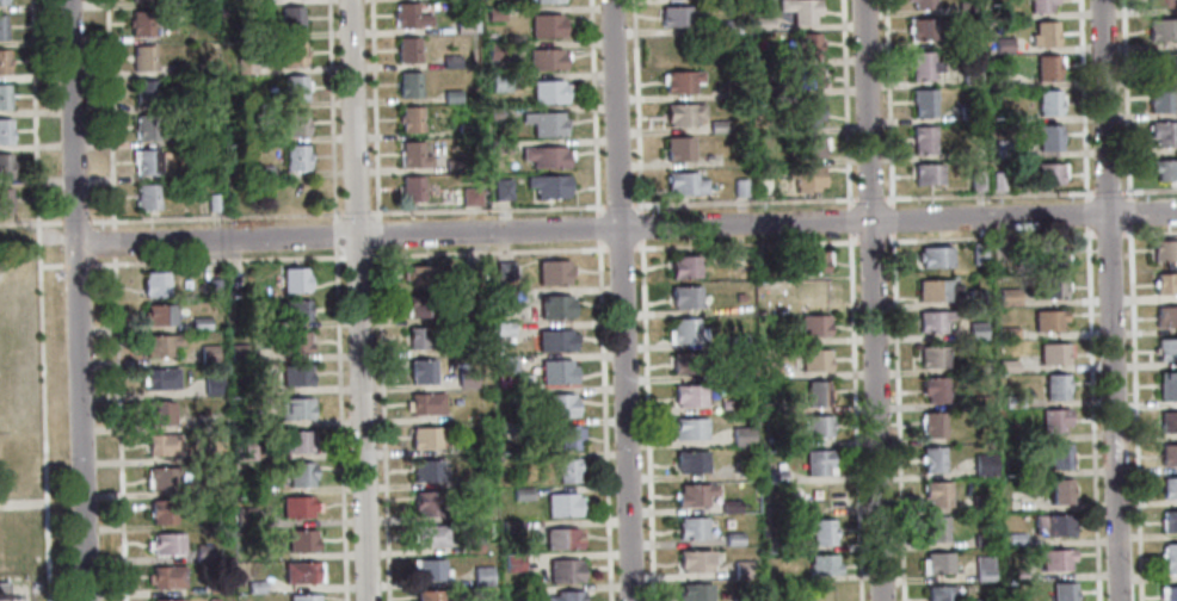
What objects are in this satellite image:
building: (140, 0)
building: (548, 0)
building: (239, 1)
building: (1, 2)
building: (920, 4)
building: (1157, 4)
building: (1040, 6)
building: (965, 7)
building: (799, 10)
building: (495, 13)
building: (405, 14)
building: (677, 14)
building: (290, 18)
building: (141, 23)
building: (762, 23)
building: (463, 24)
building: (546, 25)
building: (729, 25)
building: (1, 26)
building: (919, 27)
building: (1161, 30)
building: (1042, 33)
building: (966, 39)
building: (811, 44)
building: (1002, 44)
building: (407, 49)
building: (495, 51)
building: (291, 52)
building: (142, 57)
building: (544, 58)
building: (2, 61)
building: (450, 62)
building: (1163, 63)
building: (922, 64)
building: (244, 66)
building: (1046, 67)
building: (968, 75)
building: (806, 78)
building: (999, 78)
building: (680, 80)
building: (500, 82)
building: (408, 83)
building: (733, 85)
building: (294, 87)
building: (143, 92)
building: (548, 92)
building: (2, 95)
building: (451, 95)
building: (1158, 98)
building: (186, 99)
road: (1123, 99)
road: (1082, 100)
building: (254, 101)
building: (922, 101)
building: (1048, 101)
road: (887, 103)
road: (844, 104)
road: (635, 106)
road: (592, 107)
road: (331, 111)
road: (372, 111)
building: (967, 111)
building: (806, 112)
building: (497, 113)
building: (680, 113)
road: (109, 114)
building: (1002, 117)
building: (409, 118)
building: (295, 122)
building: (546, 123)
building: (716, 125)
building: (146, 126)
building: (5, 130)
building: (466, 130)
building: (1161, 132)
building: (1044, 136)
building: (190, 138)
building: (922, 138)
building: (499, 145)
building: (805, 145)
building: (677, 148)
building: (1002, 149)
building: (413, 154)
building: (295, 156)
building: (546, 156)
building: (705, 156)
building: (144, 162)
building: (5, 165)
building: (452, 165)
building: (1164, 169)
building: (261, 171)
building: (1047, 172)
building: (926, 174)
building: (805, 176)
building: (975, 180)
building: (997, 181)
building: (683, 182)
building: (548, 185)
building: (738, 186)
building: (411, 187)
building: (501, 187)
road: (1029, 193)
building: (146, 196)
building: (470, 196)
road: (869, 197)
building: (4, 200)
road: (742, 200)
building: (212, 202)
road: (617, 205)
road: (346, 211)
road: (1127, 212)
road: (1085, 213)
road: (891, 219)
road: (848, 221)
road: (74, 222)
road: (30, 223)
road: (639, 225)
road: (626, 227)
road: (597, 228)
road: (1147, 233)
road: (377, 234)
road: (334, 235)
road: (1107, 235)
road: (988, 237)
road: (870, 241)
road: (112, 242)
road: (612, 248)
building: (1164, 249)
road: (335, 253)
building: (978, 253)
building: (1048, 254)
road: (356, 256)
building: (935, 256)
road: (215, 260)
building: (811, 261)
road: (50, 266)
road: (75, 266)
building: (683, 266)
building: (474, 269)
building: (504, 269)
building: (551, 272)
building: (423, 274)
building: (292, 279)
building: (153, 283)
building: (1165, 283)
building: (212, 286)
building: (1049, 286)
building: (935, 290)
building: (815, 295)
building: (684, 296)
building: (739, 297)
building: (1007, 297)
building: (503, 298)
road: (78, 299)
road: (358, 299)
road: (621, 299)
road: (1109, 299)
road: (38, 300)
road: (871, 300)
building: (420, 305)
building: (554, 305)
building: (291, 310)
building: (160, 314)
building: (474, 314)
building: (1166, 315)
building: (931, 320)
building: (1047, 320)
building: (251, 321)
building: (201, 322)
building: (813, 324)
building: (685, 329)
building: (974, 329)
building: (1006, 332)
building: (503, 333)
building: (421, 336)
building: (554, 340)
building: (735, 340)
building: (294, 341)
building: (160, 343)
building: (1166, 348)
building: (236, 352)
building: (209, 353)
building: (1052, 353)
building: (931, 357)
building: (813, 359)
building: (685, 361)
building: (505, 364)
building: (980, 366)
building: (1005, 366)
building: (768, 370)
building: (420, 371)
building: (555, 371)
building: (295, 373)
building: (726, 373)
building: (160, 377)
building: (466, 377)
building: (212, 385)
building: (1054, 385)
building: (1166, 385)
building: (253, 386)
building: (932, 389)
building: (815, 391)
building: (517, 395)
building: (688, 395)
building: (976, 401)
building: (1012, 401)
building: (424, 403)
building: (557, 404)
building: (727, 405)
building: (292, 407)
building: (159, 411)
road: (1091, 413)
road: (1133, 414)
road: (852, 416)
road: (896, 416)
building: (246, 419)
road: (646, 419)
road: (603, 420)
building: (1052, 420)
building: (1167, 421)
road: (383, 423)
building: (931, 423)
building: (816, 425)
road: (118, 427)
building: (688, 428)
road: (340, 429)
building: (506, 430)
building: (566, 435)
building: (423, 436)
building: (741, 436)
building: (296, 441)
building: (162, 444)
building: (245, 450)
building: (1169, 454)
building: (1058, 456)
building: (930, 459)
building: (690, 460)
building: (816, 461)
building: (982, 465)
building: (1023, 469)
building: (424, 470)
building: (565, 470)
building: (298, 473)
building: (161, 476)
building: (774, 476)
building: (1169, 487)
building: (204, 488)
building: (1056, 490)
building: (936, 492)
building: (519, 494)
building: (692, 494)
building: (980, 502)
building: (425, 503)
building: (296, 504)
building: (560, 504)
building: (728, 506)
building: (161, 510)
building: (245, 513)
building: (1169, 520)
building: (1050, 525)
building: (690, 527)
building: (932, 528)
building: (820, 531)
building: (427, 534)
building: (560, 538)
building: (732, 538)
building: (1013, 538)
building: (298, 539)
building: (981, 540)
building: (166, 543)
building: (470, 545)
building: (778, 546)
building: (202, 552)
building: (1169, 558)
building: (1054, 559)
building: (692, 560)
building: (511, 562)
building: (935, 562)
building: (821, 564)
building: (982, 568)
building: (427, 569)
building: (741, 569)
building: (562, 570)
building: (301, 571)
building: (1016, 574)
building: (481, 575)
building: (166, 576)
building: (254, 585)
building: (214, 588)
building: (5, 591)
building: (694, 591)
building: (1061, 591)
building: (526, 593)
building: (938, 593)
building: (1167, 593)
building: (426, 595)
building: (563, 596)
building: (302, 597)
building: (167, 600)
building: (740, 600)
building: (980, 600)

